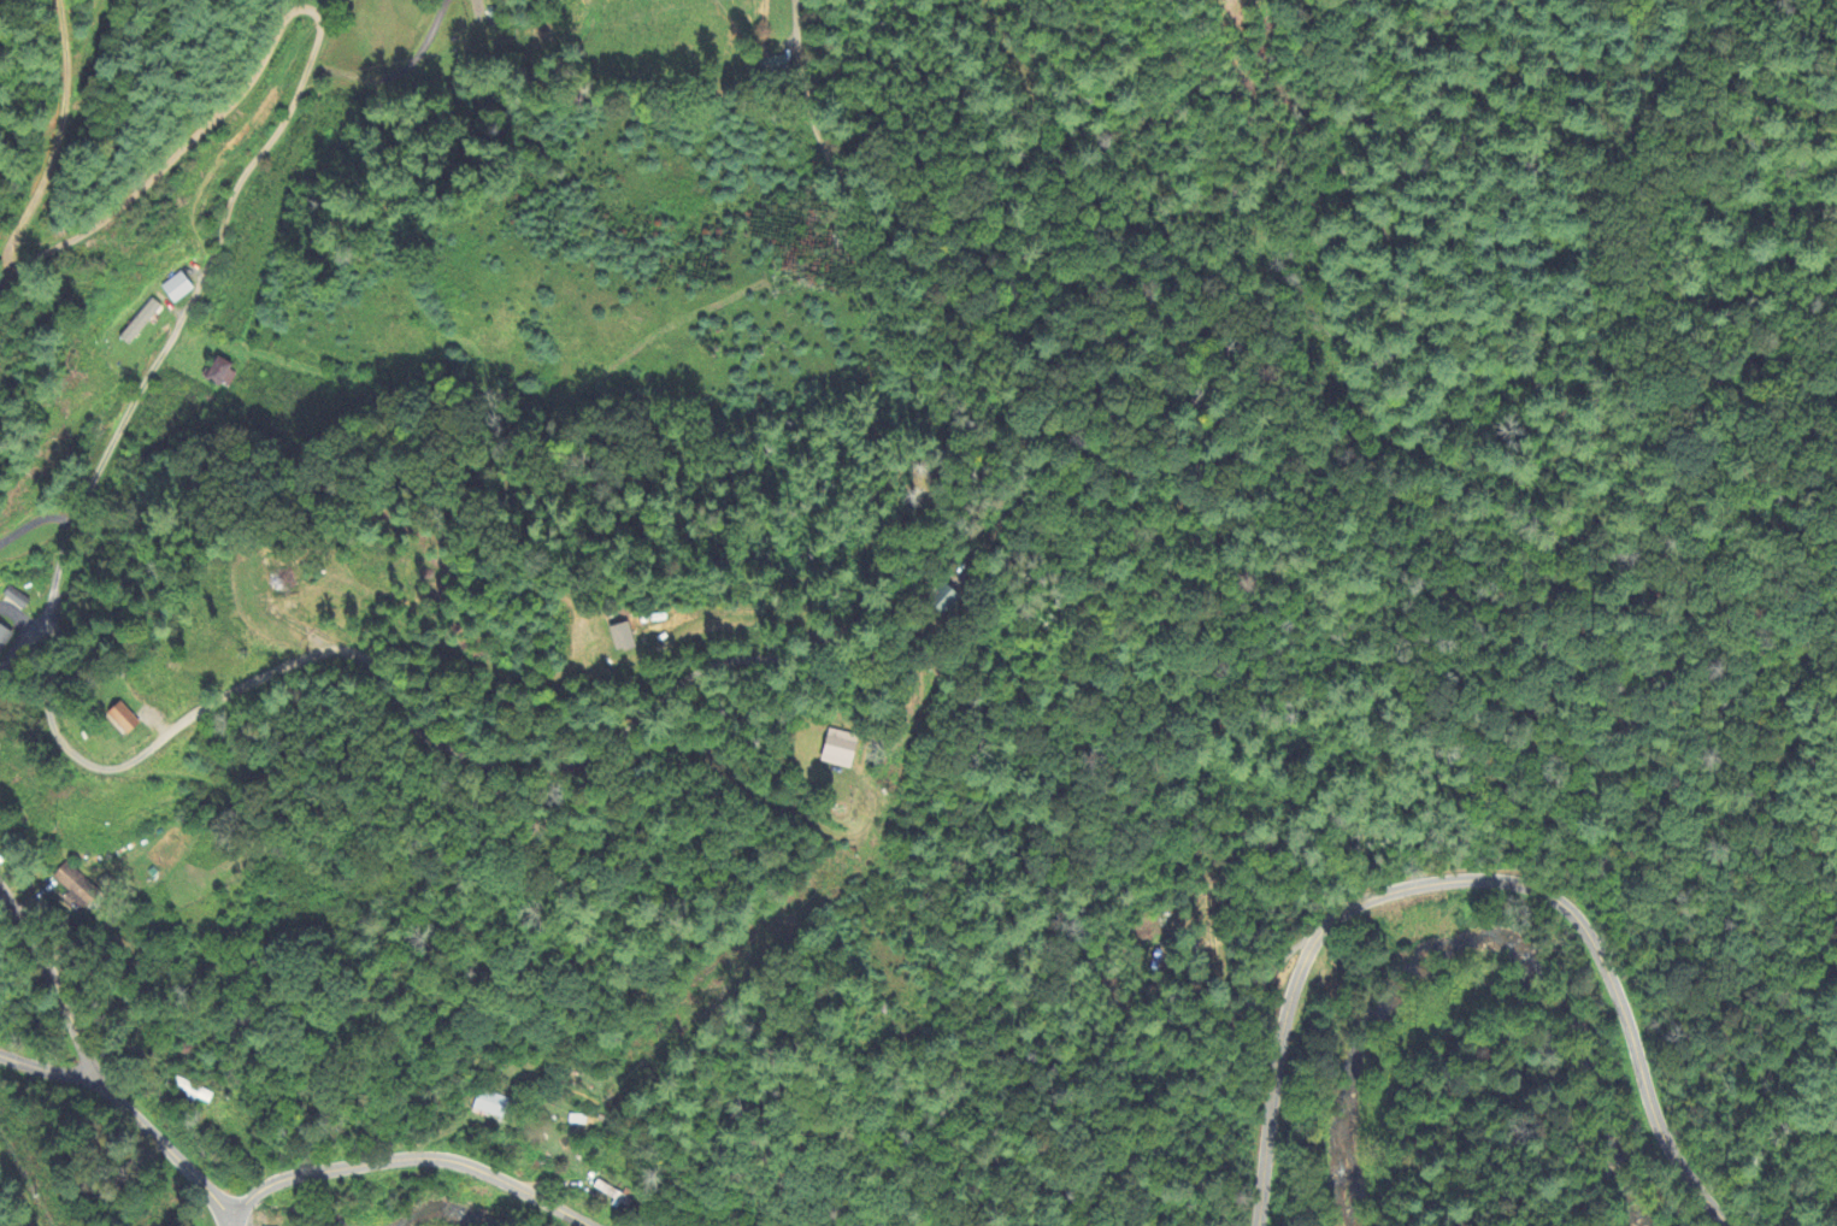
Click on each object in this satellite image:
building: (776, 66)
road: (78, 236)
road: (22, 269)
building: (178, 288)
building: (141, 322)
road: (172, 340)
building: (222, 372)
road: (1017, 455)
road: (35, 521)
building: (946, 599)
building: (623, 637)
building: (4, 638)
road: (389, 701)
building: (124, 718)
building: (841, 749)
road: (1470, 880)
building: (75, 884)
road: (90, 1067)
road: (46, 1069)
building: (491, 1104)
road: (307, 1173)
road: (496, 1179)
building: (611, 1192)
road: (229, 1221)

